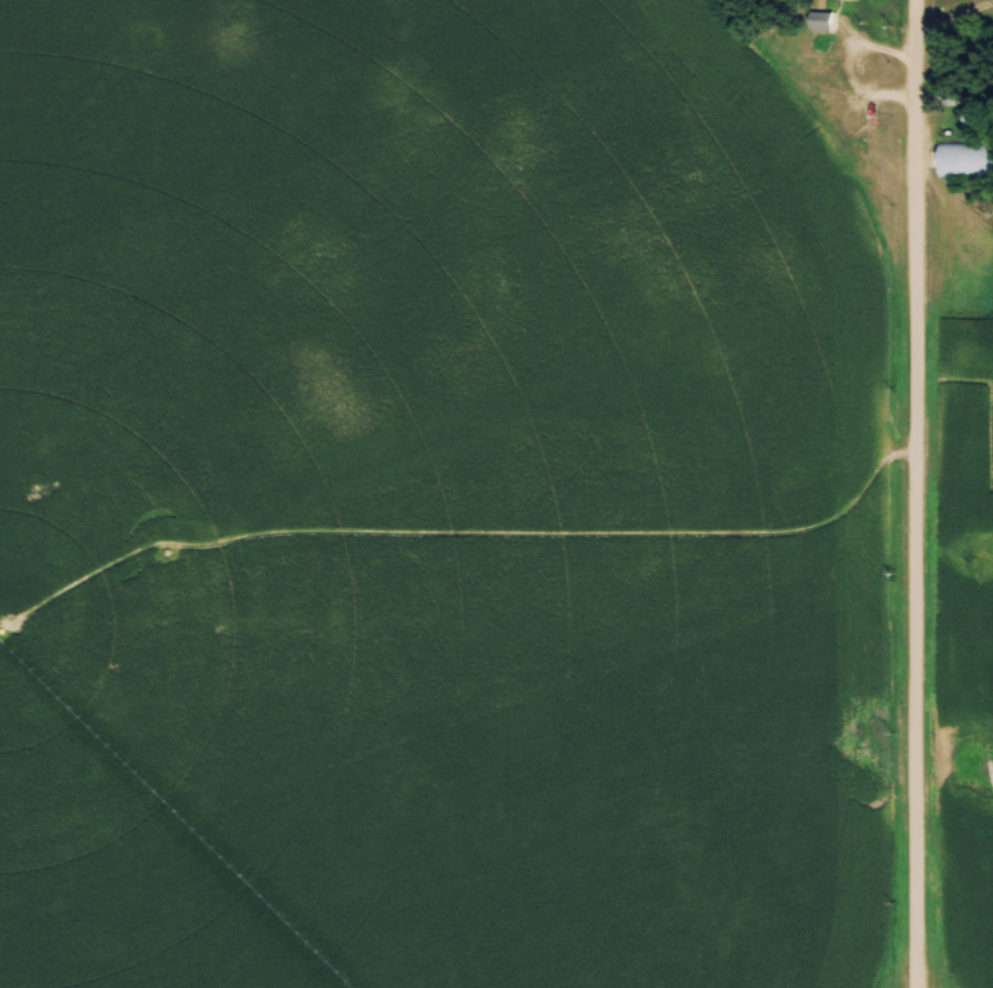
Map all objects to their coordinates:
building: (819, 21)
building: (944, 99)
building: (972, 117)
building: (965, 160)
road: (916, 494)

